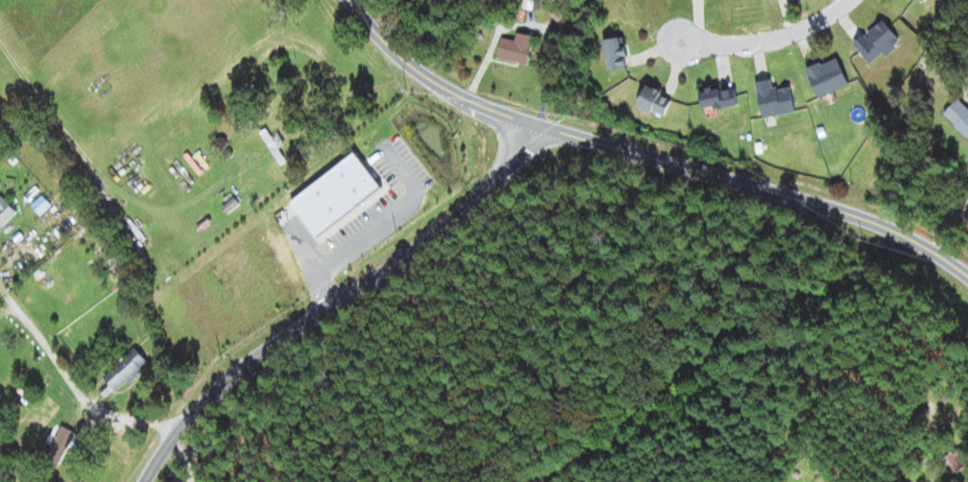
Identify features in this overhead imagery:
building: (922, 1)
road: (774, 41)
building: (876, 43)
building: (514, 49)
building: (613, 55)
building: (826, 78)
building: (717, 99)
building: (773, 100)
building: (653, 102)
building: (958, 118)
building: (272, 145)
road: (645, 158)
building: (5, 213)
road: (338, 303)
building: (124, 370)
building: (58, 446)
building: (954, 461)

